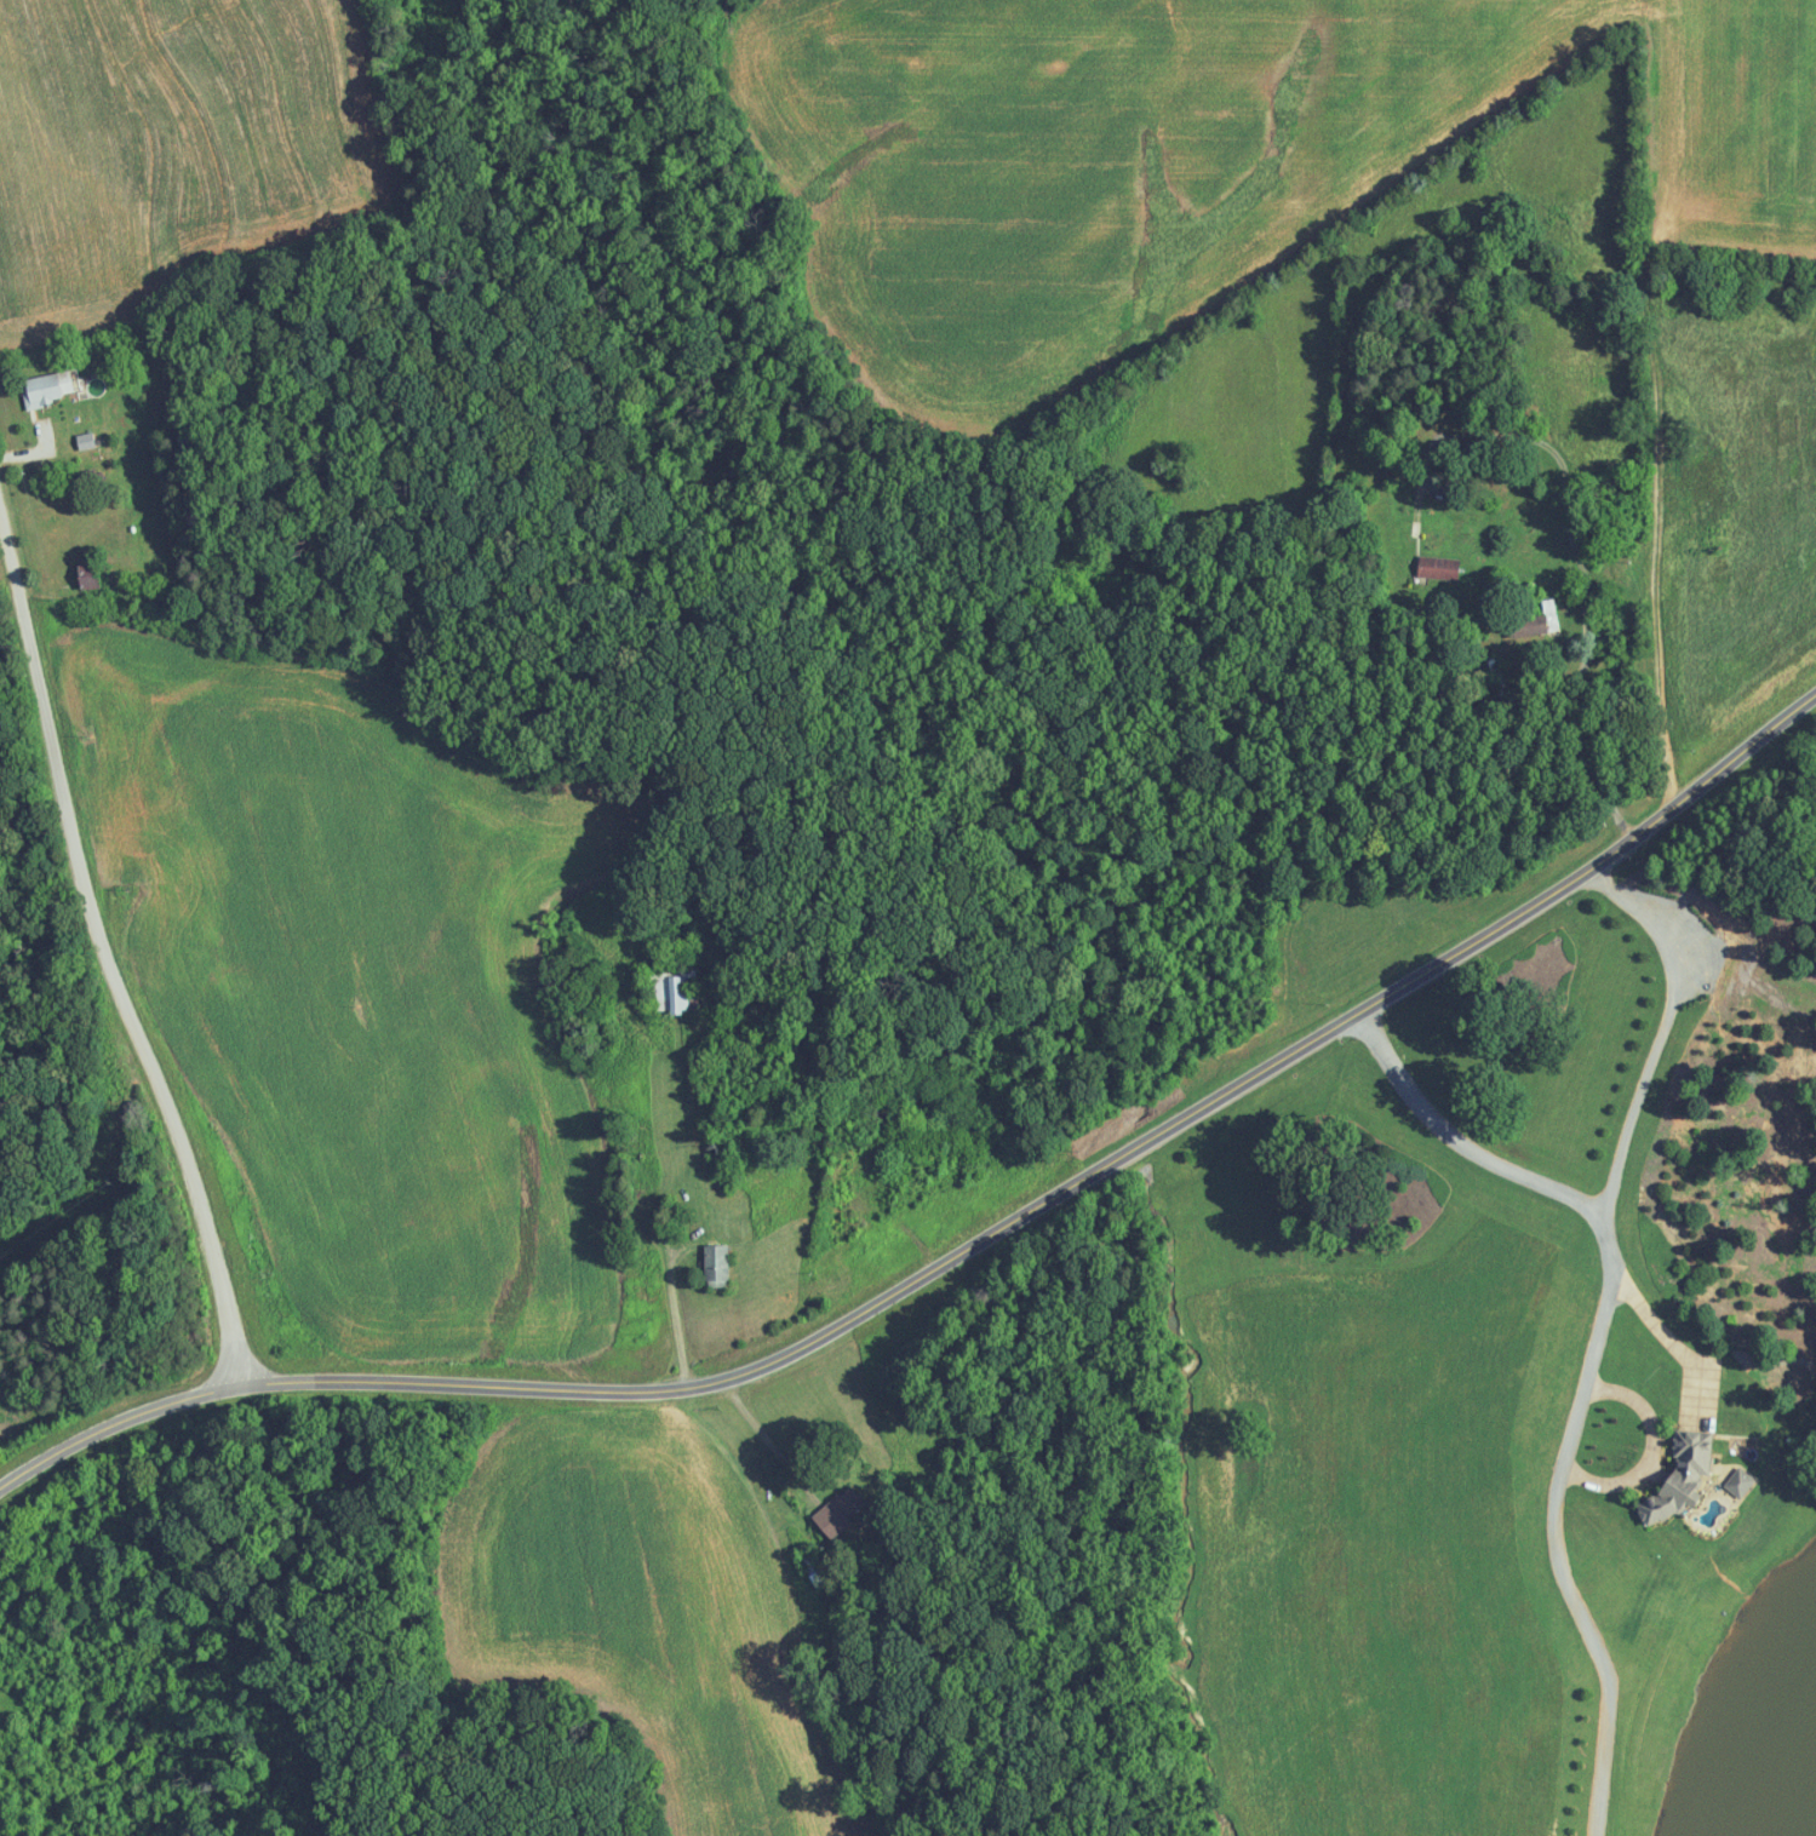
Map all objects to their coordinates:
building: (44, 386)
building: (82, 440)
road: (1569, 527)
building: (84, 576)
building: (1548, 614)
road: (111, 942)
building: (674, 993)
road: (1615, 1178)
road: (962, 1252)
building: (718, 1262)
road: (674, 1310)
road: (1673, 1346)
road: (1655, 1453)
building: (1683, 1479)
building: (1742, 1484)
building: (841, 1513)
road: (1554, 1521)

